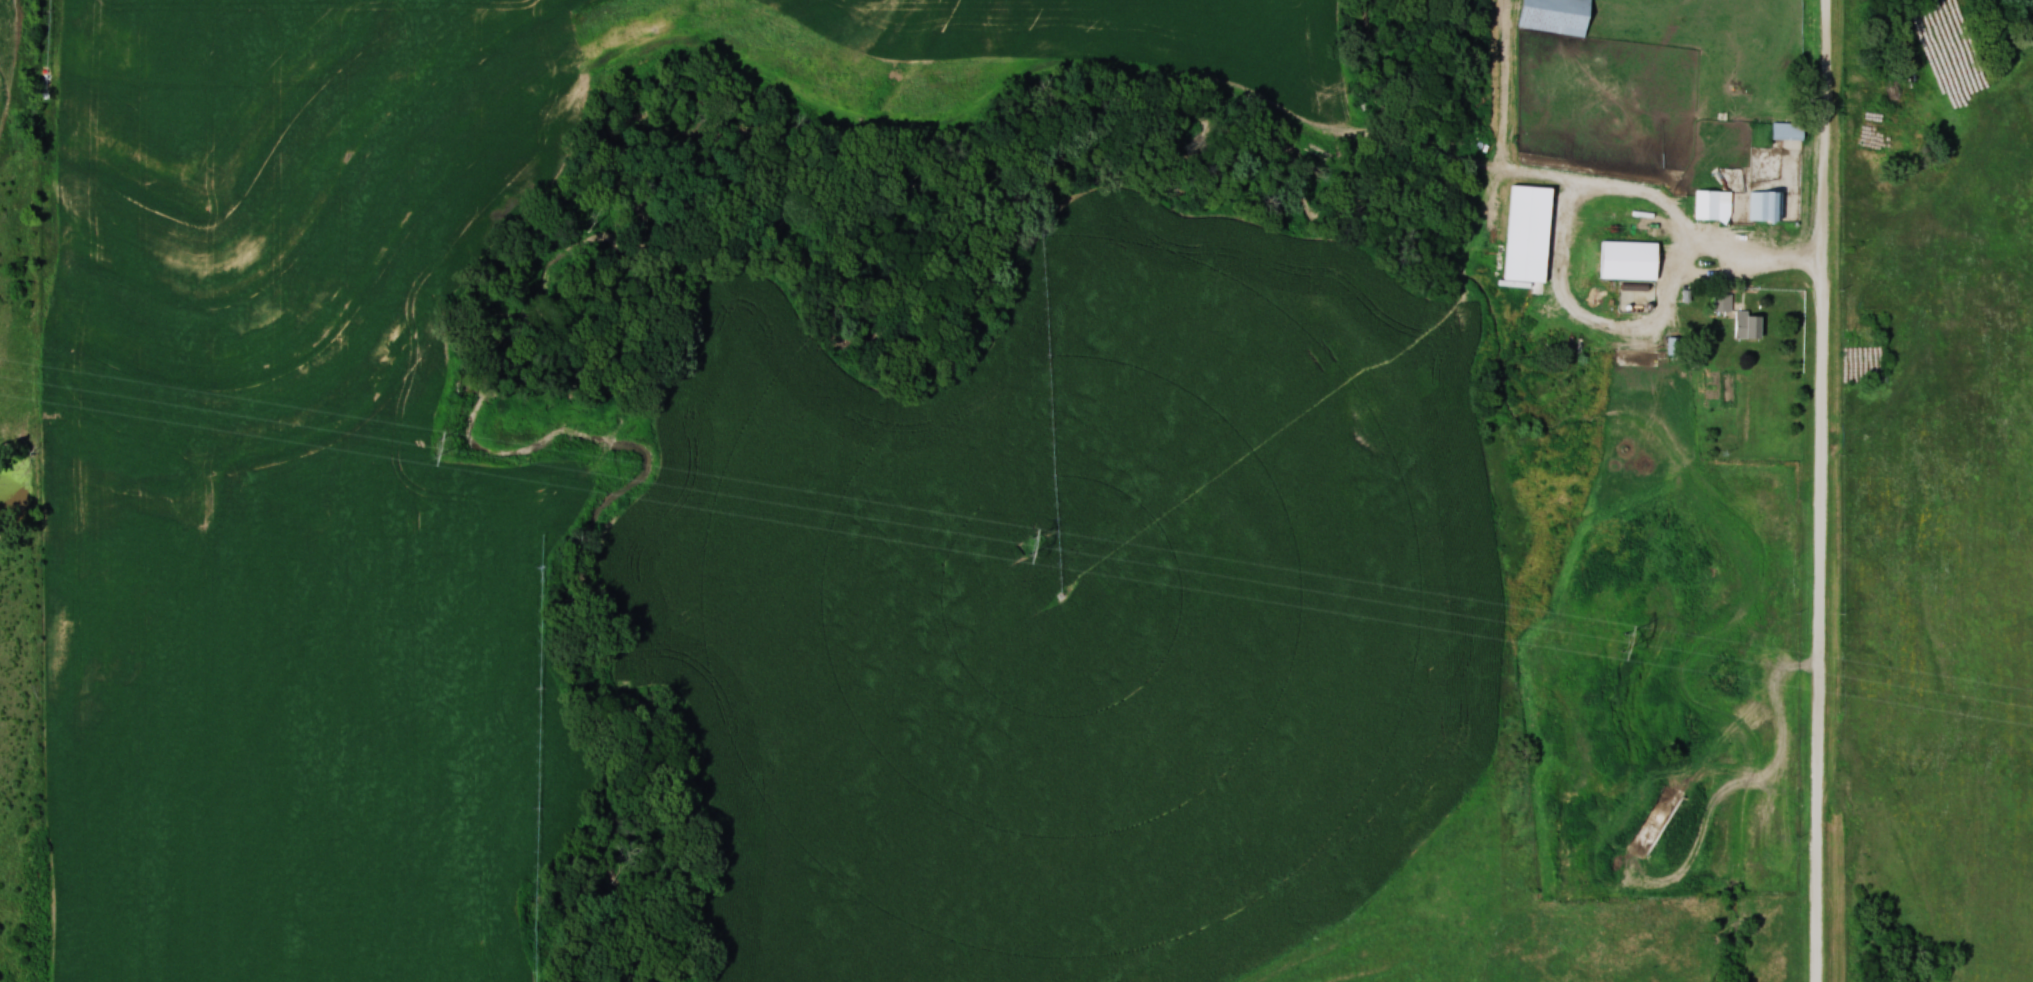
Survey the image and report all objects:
building: (1559, 15)
building: (1791, 130)
building: (1715, 205)
building: (1768, 205)
building: (1651, 228)
road: (1561, 236)
building: (1634, 260)
road: (1776, 260)
building: (1723, 301)
building: (1750, 324)
power tower: (437, 446)
road: (1820, 490)
power tower: (1029, 544)
power tower: (1627, 641)

